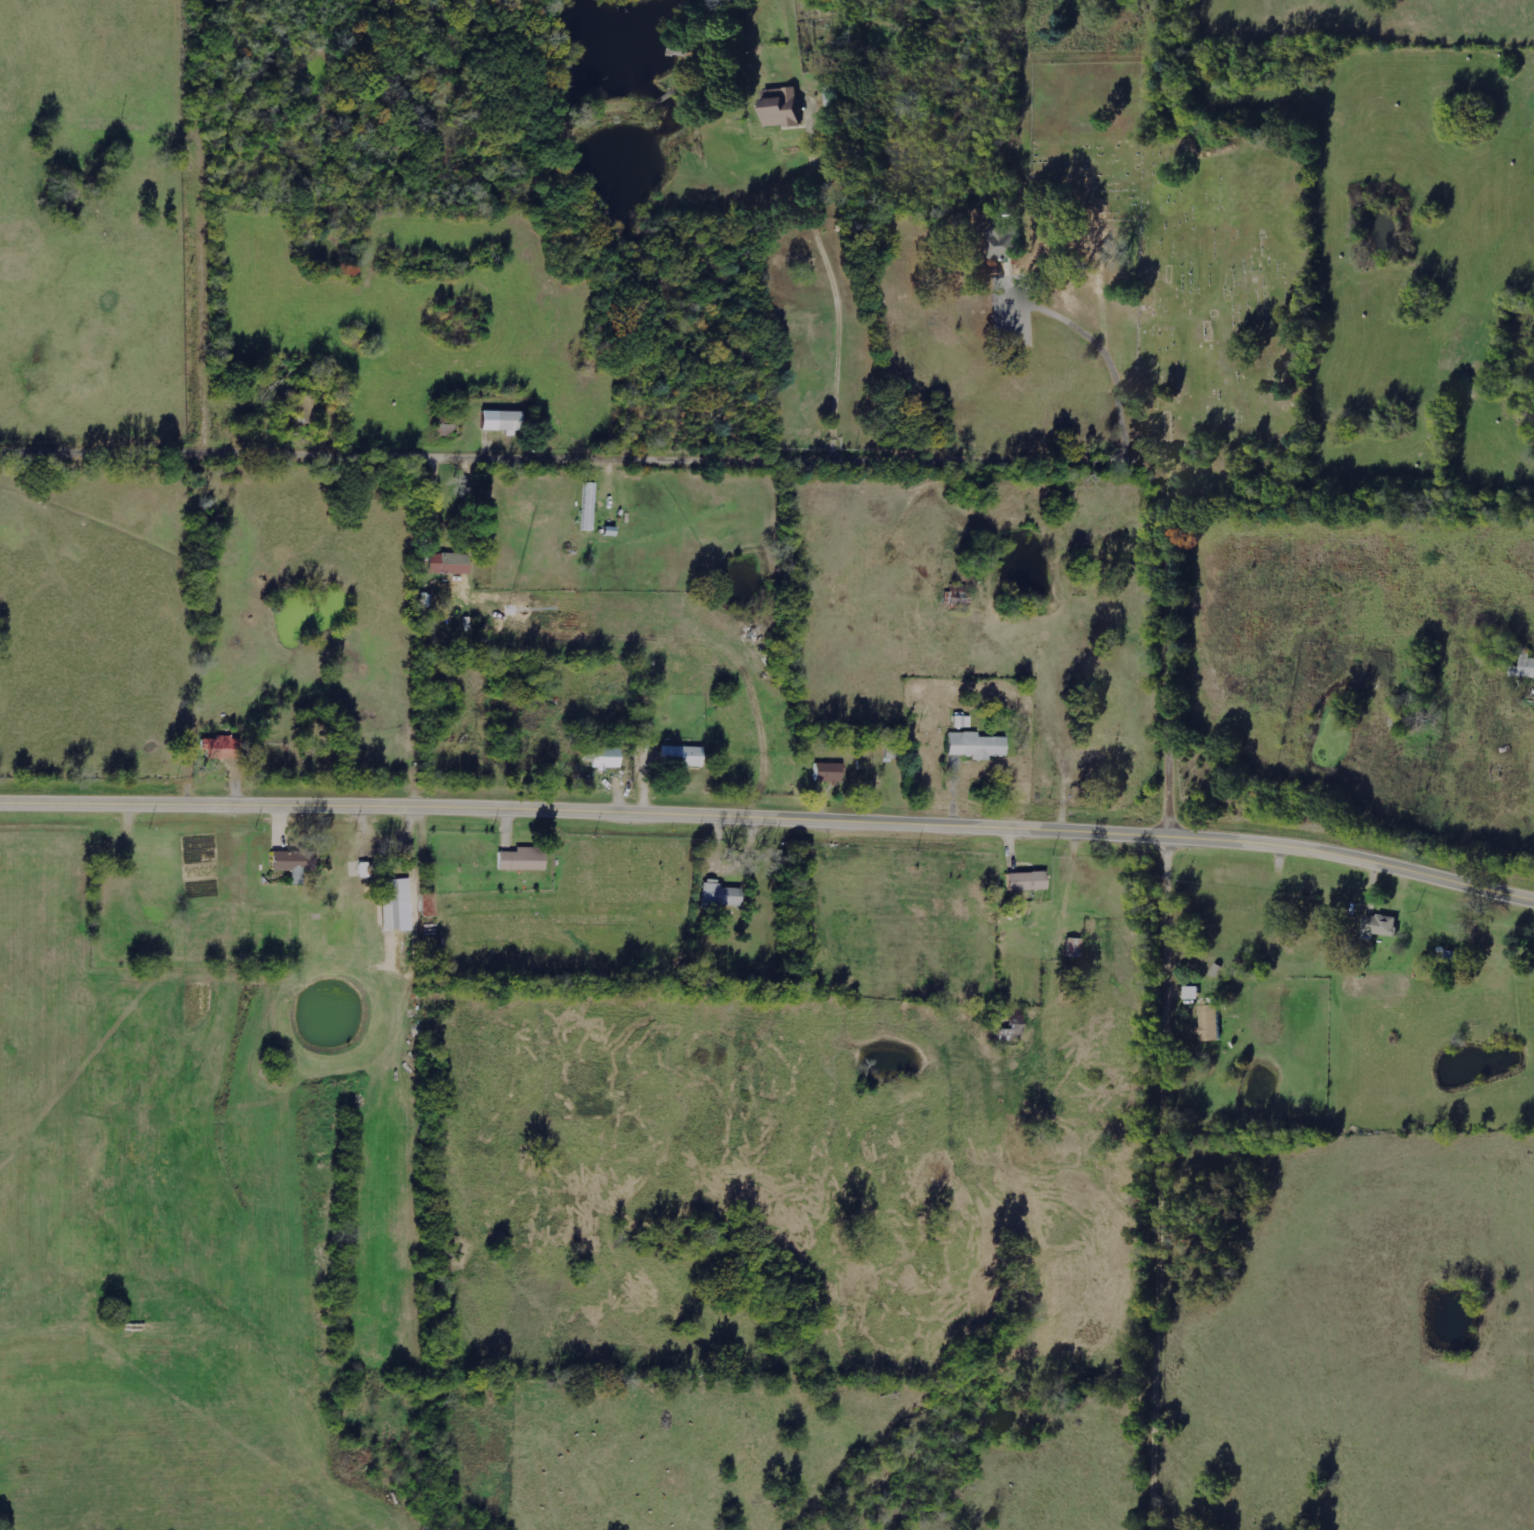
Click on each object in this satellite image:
building: (781, 110)
road: (214, 233)
road: (860, 235)
building: (1001, 241)
park: (1203, 295)
road: (1084, 364)
building: (442, 424)
road: (1101, 475)
building: (588, 507)
building: (446, 563)
building: (957, 597)
building: (500, 623)
building: (1523, 666)
building: (961, 722)
building: (974, 746)
building: (218, 749)
building: (680, 757)
building: (605, 758)
building: (826, 773)
road: (770, 814)
building: (520, 860)
building: (291, 864)
building: (364, 870)
building: (1025, 882)
building: (720, 896)
building: (393, 901)
building: (426, 906)
building: (1379, 925)
building: (1073, 948)
building: (1208, 1020)
building: (1009, 1032)

